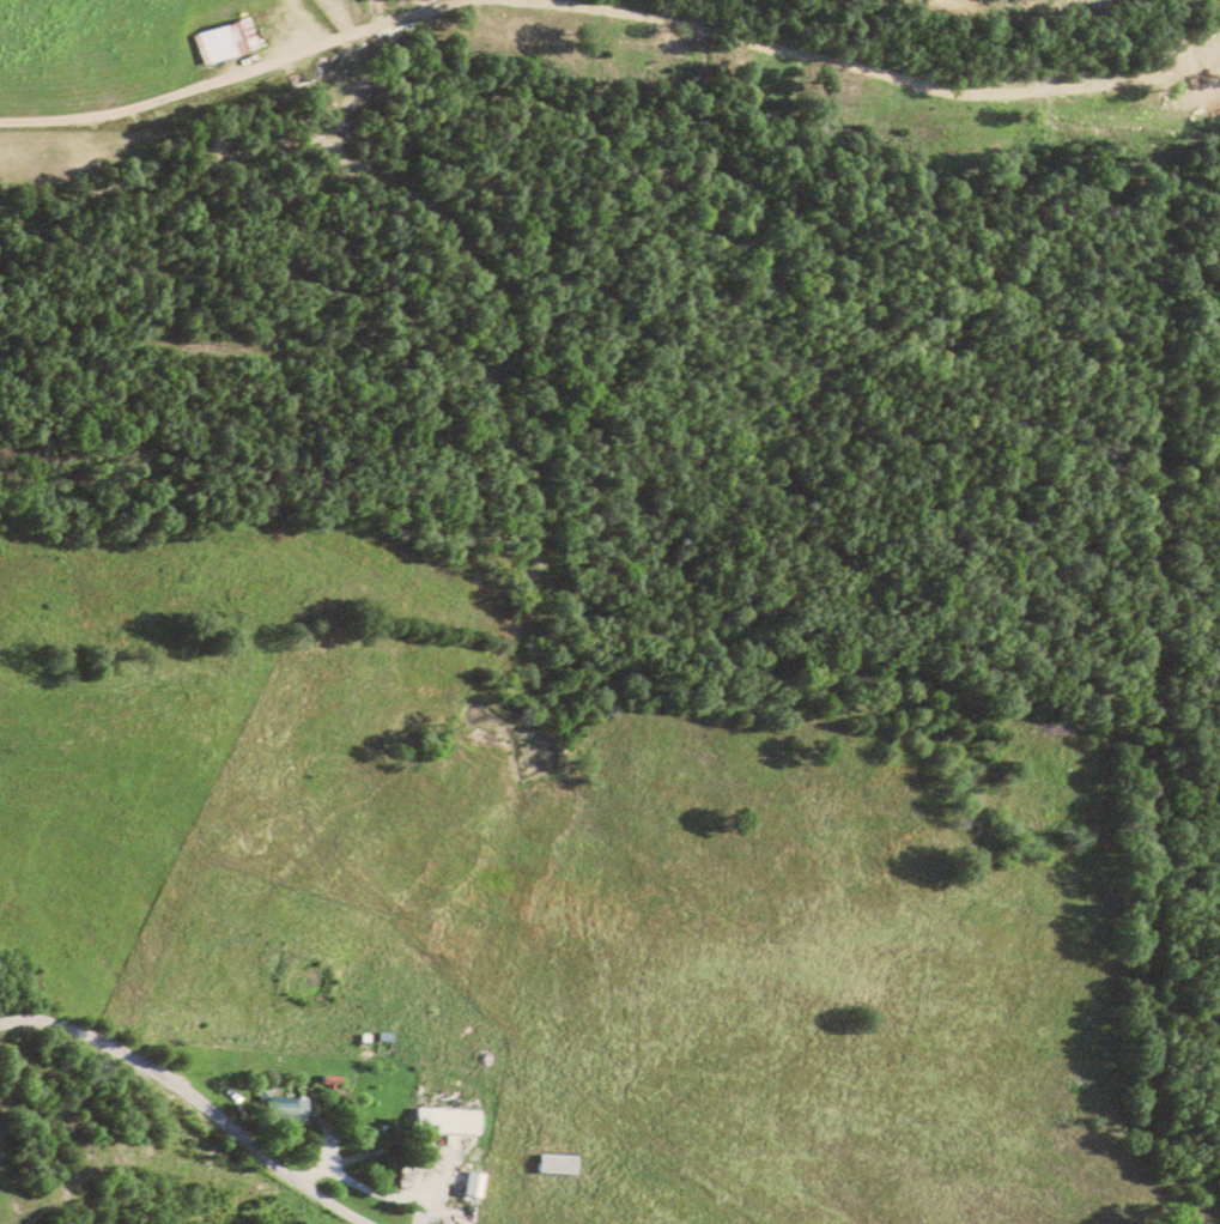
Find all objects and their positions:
building: (223, 41)
road: (243, 75)
road: (194, 1097)
building: (285, 1109)
building: (445, 1120)
building: (472, 1182)

